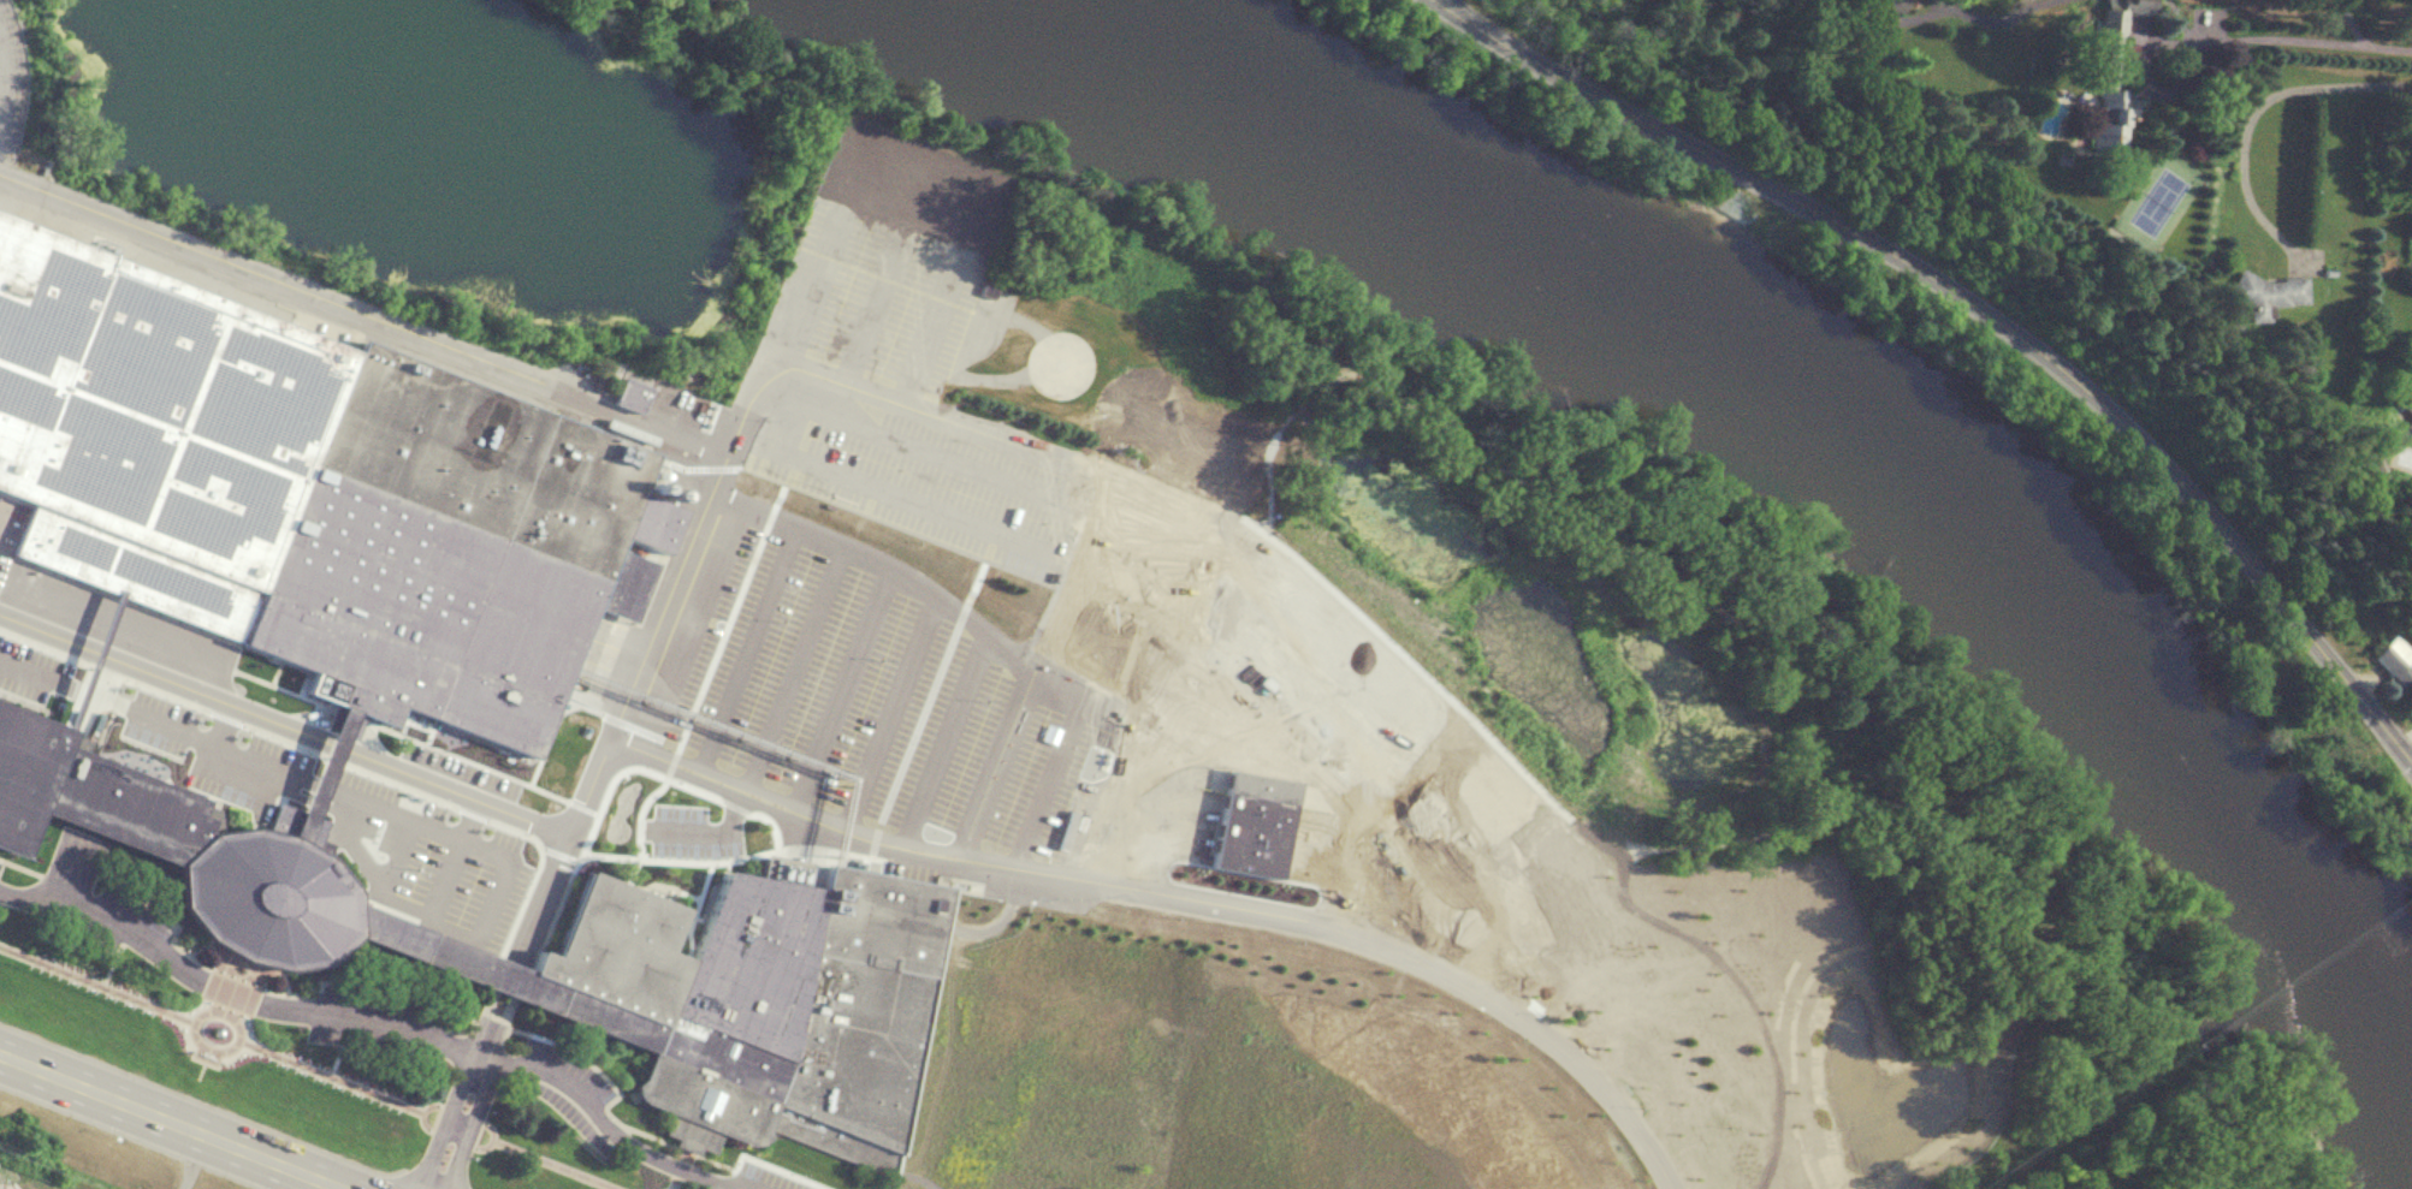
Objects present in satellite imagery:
building: (1891, 4)
road: (2349, 22)
road: (2277, 38)
building: (2114, 67)
river: (1222, 94)
road: (2252, 117)
road: (909, 162)
building: (2266, 291)
road: (1980, 309)
railway: (346, 320)
building: (627, 394)
building: (2406, 399)
building: (2408, 423)
road: (952, 426)
building: (304, 489)
road: (908, 498)
river: (1998, 523)
road: (908, 582)
road: (1302, 636)
road: (1246, 652)
building: (2398, 659)
road: (1036, 666)
road: (161, 677)
road: (332, 741)
road: (456, 789)
building: (1252, 821)
road: (1185, 897)
road: (517, 946)
building: (564, 949)
road: (526, 950)
road: (503, 976)
road: (230, 989)
road: (457, 1090)
road: (485, 1094)
road: (227, 1112)
road: (171, 1122)
road: (606, 1124)
road: (130, 1136)
road: (2316, 1171)

